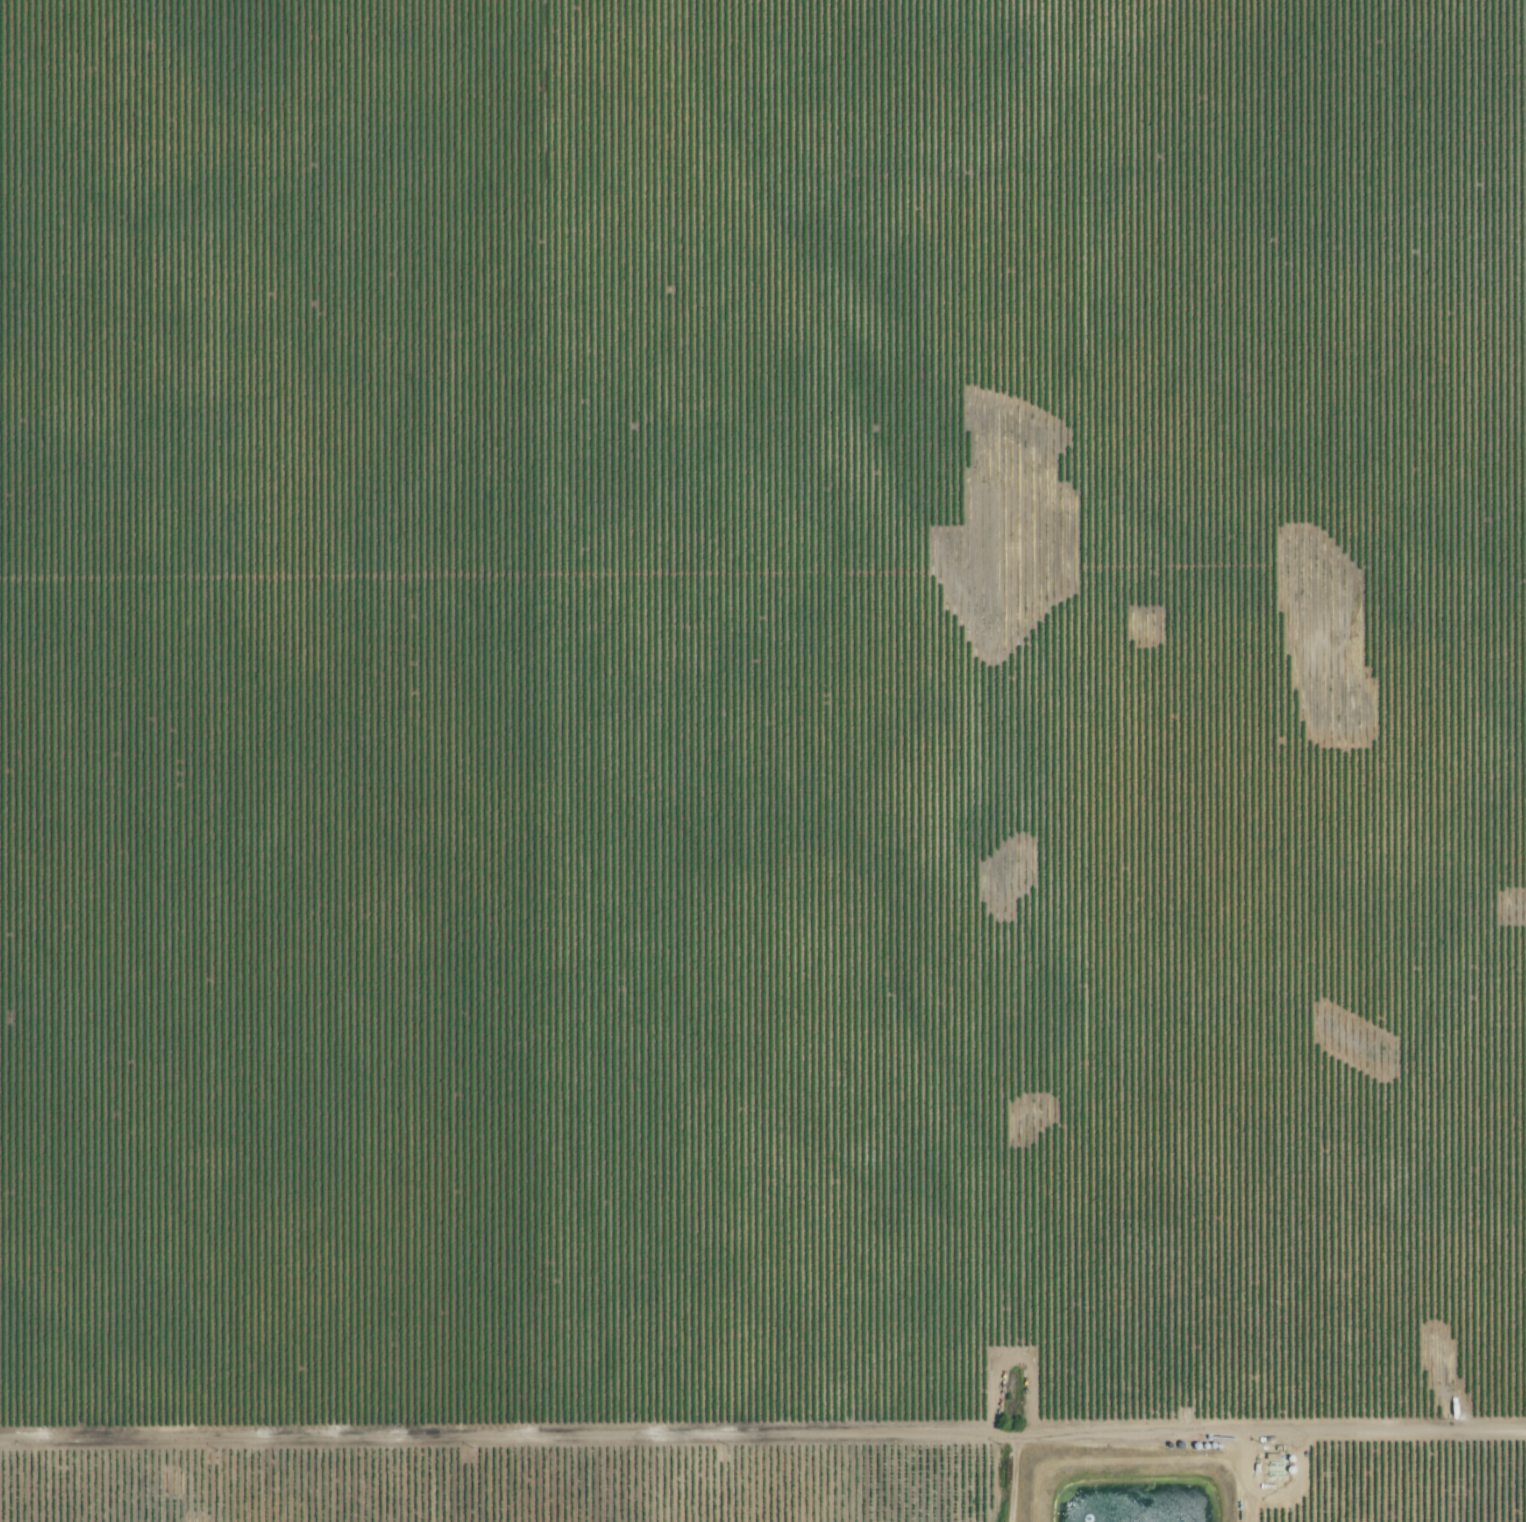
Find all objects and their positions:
building: (1275, 1469)

